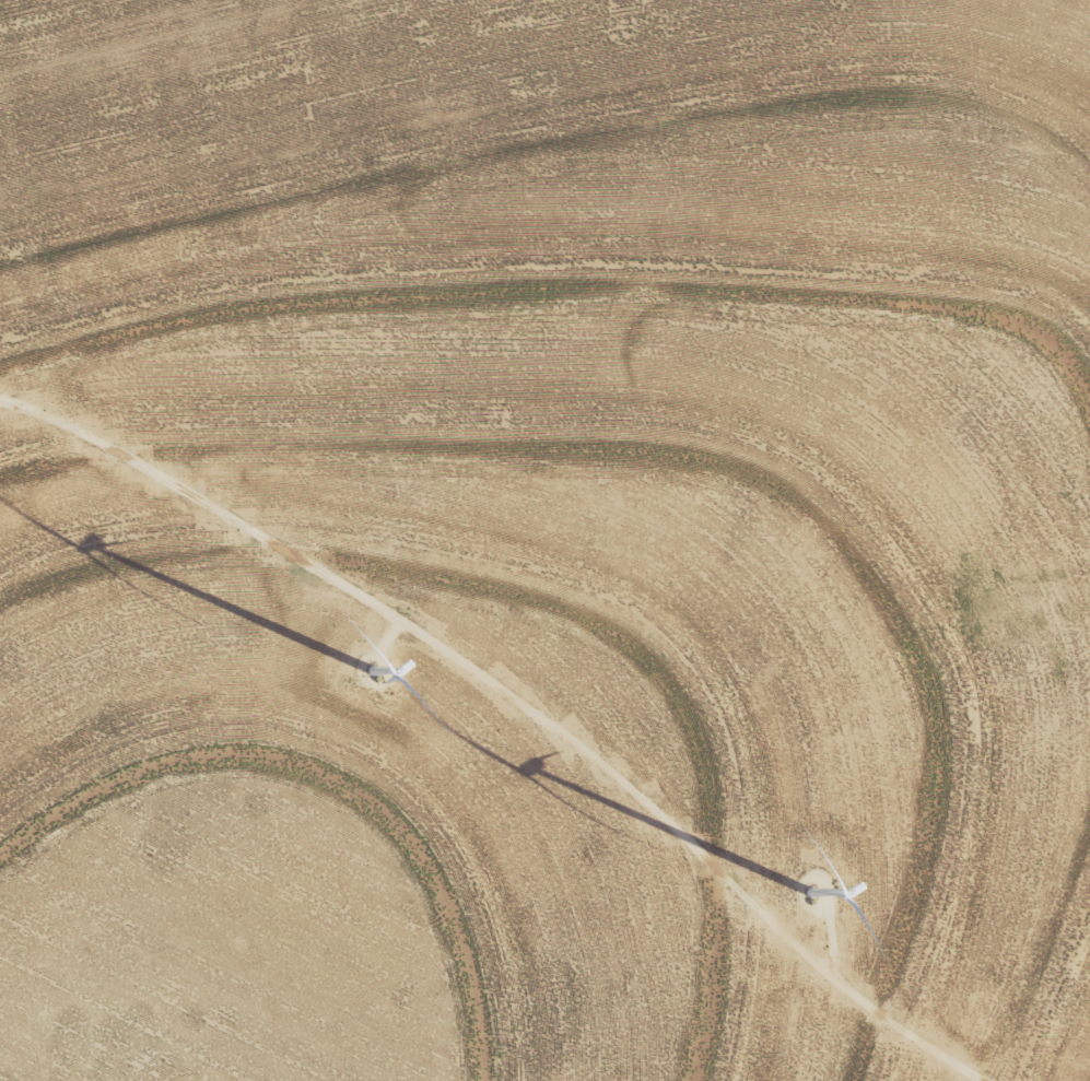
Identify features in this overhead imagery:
wind turbine: (370, 678)
wind turbine: (801, 891)

